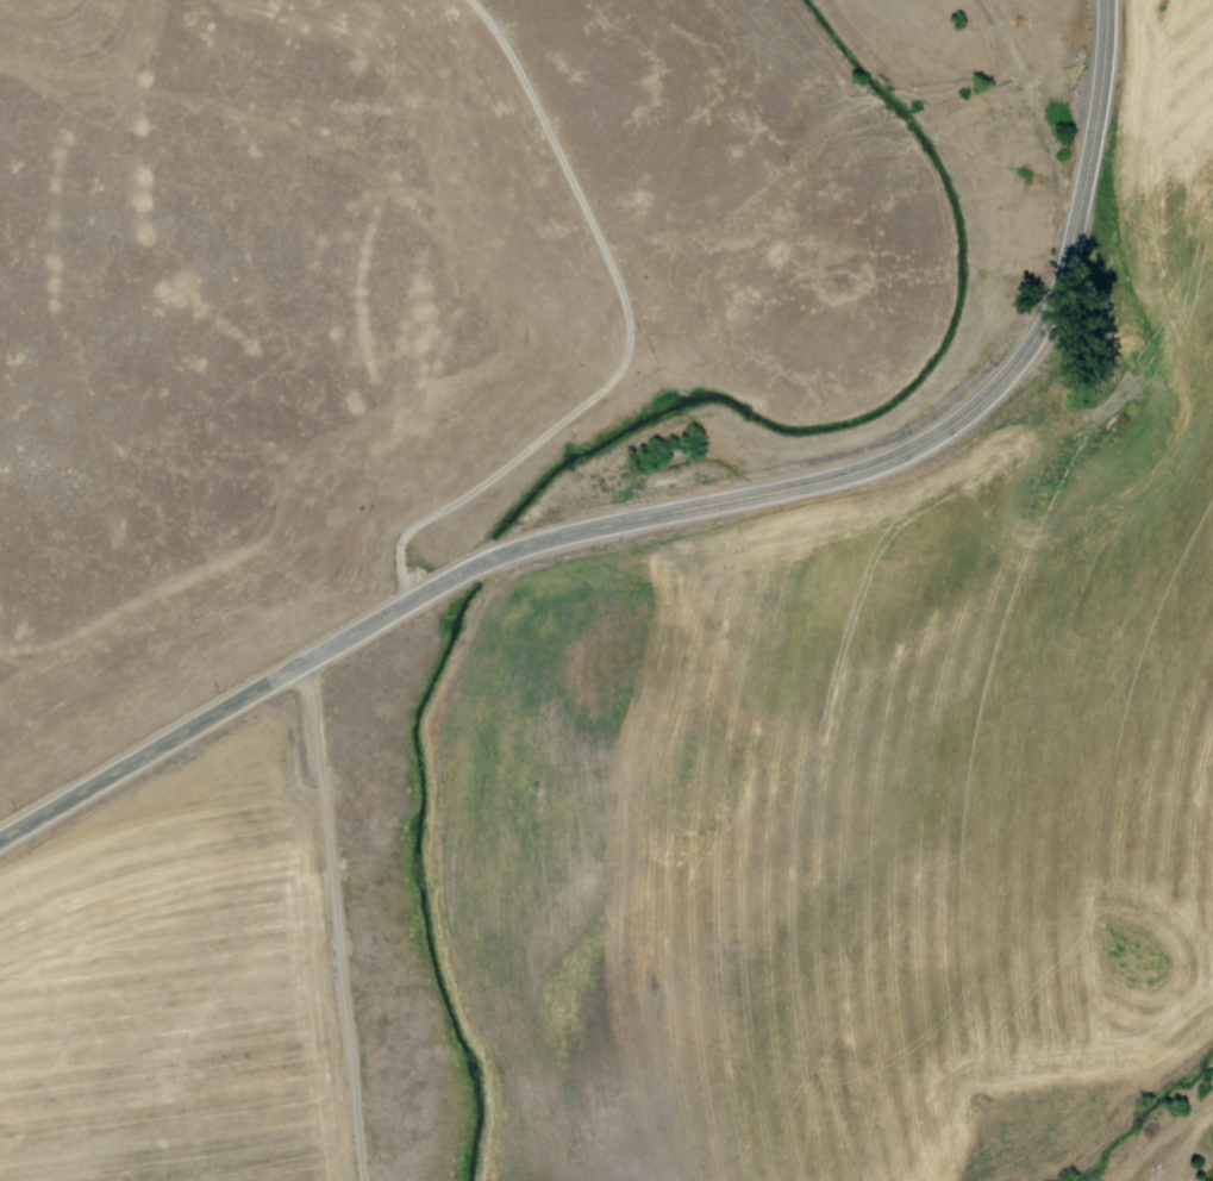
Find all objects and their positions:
road: (595, 320)
road: (676, 508)
road: (326, 921)

